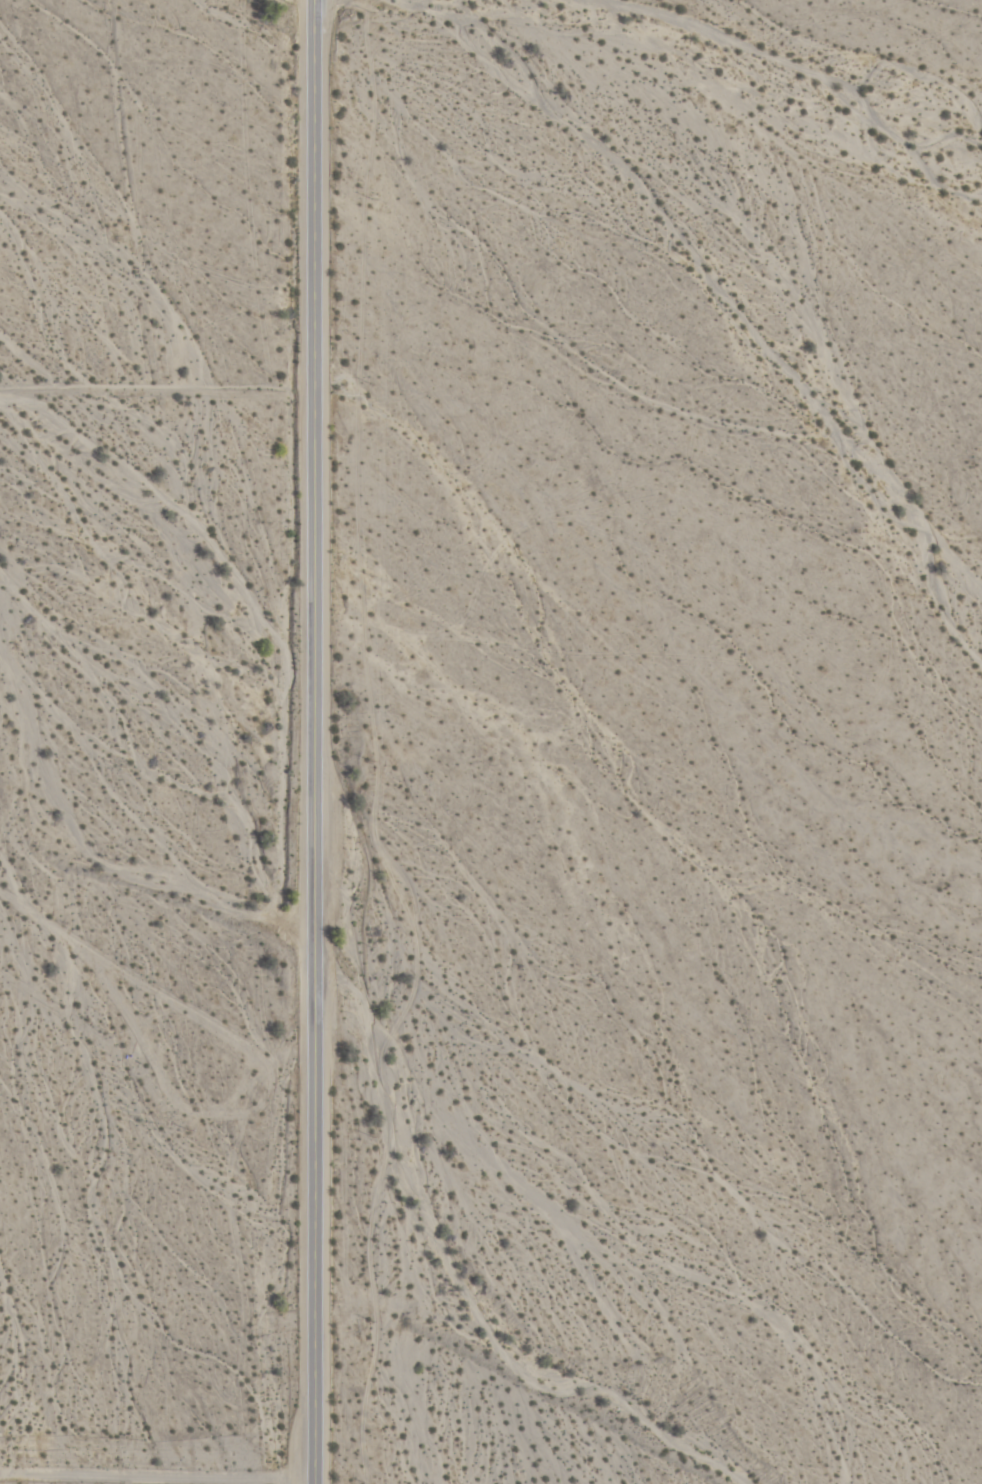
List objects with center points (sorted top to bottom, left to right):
road: (321, 742)

